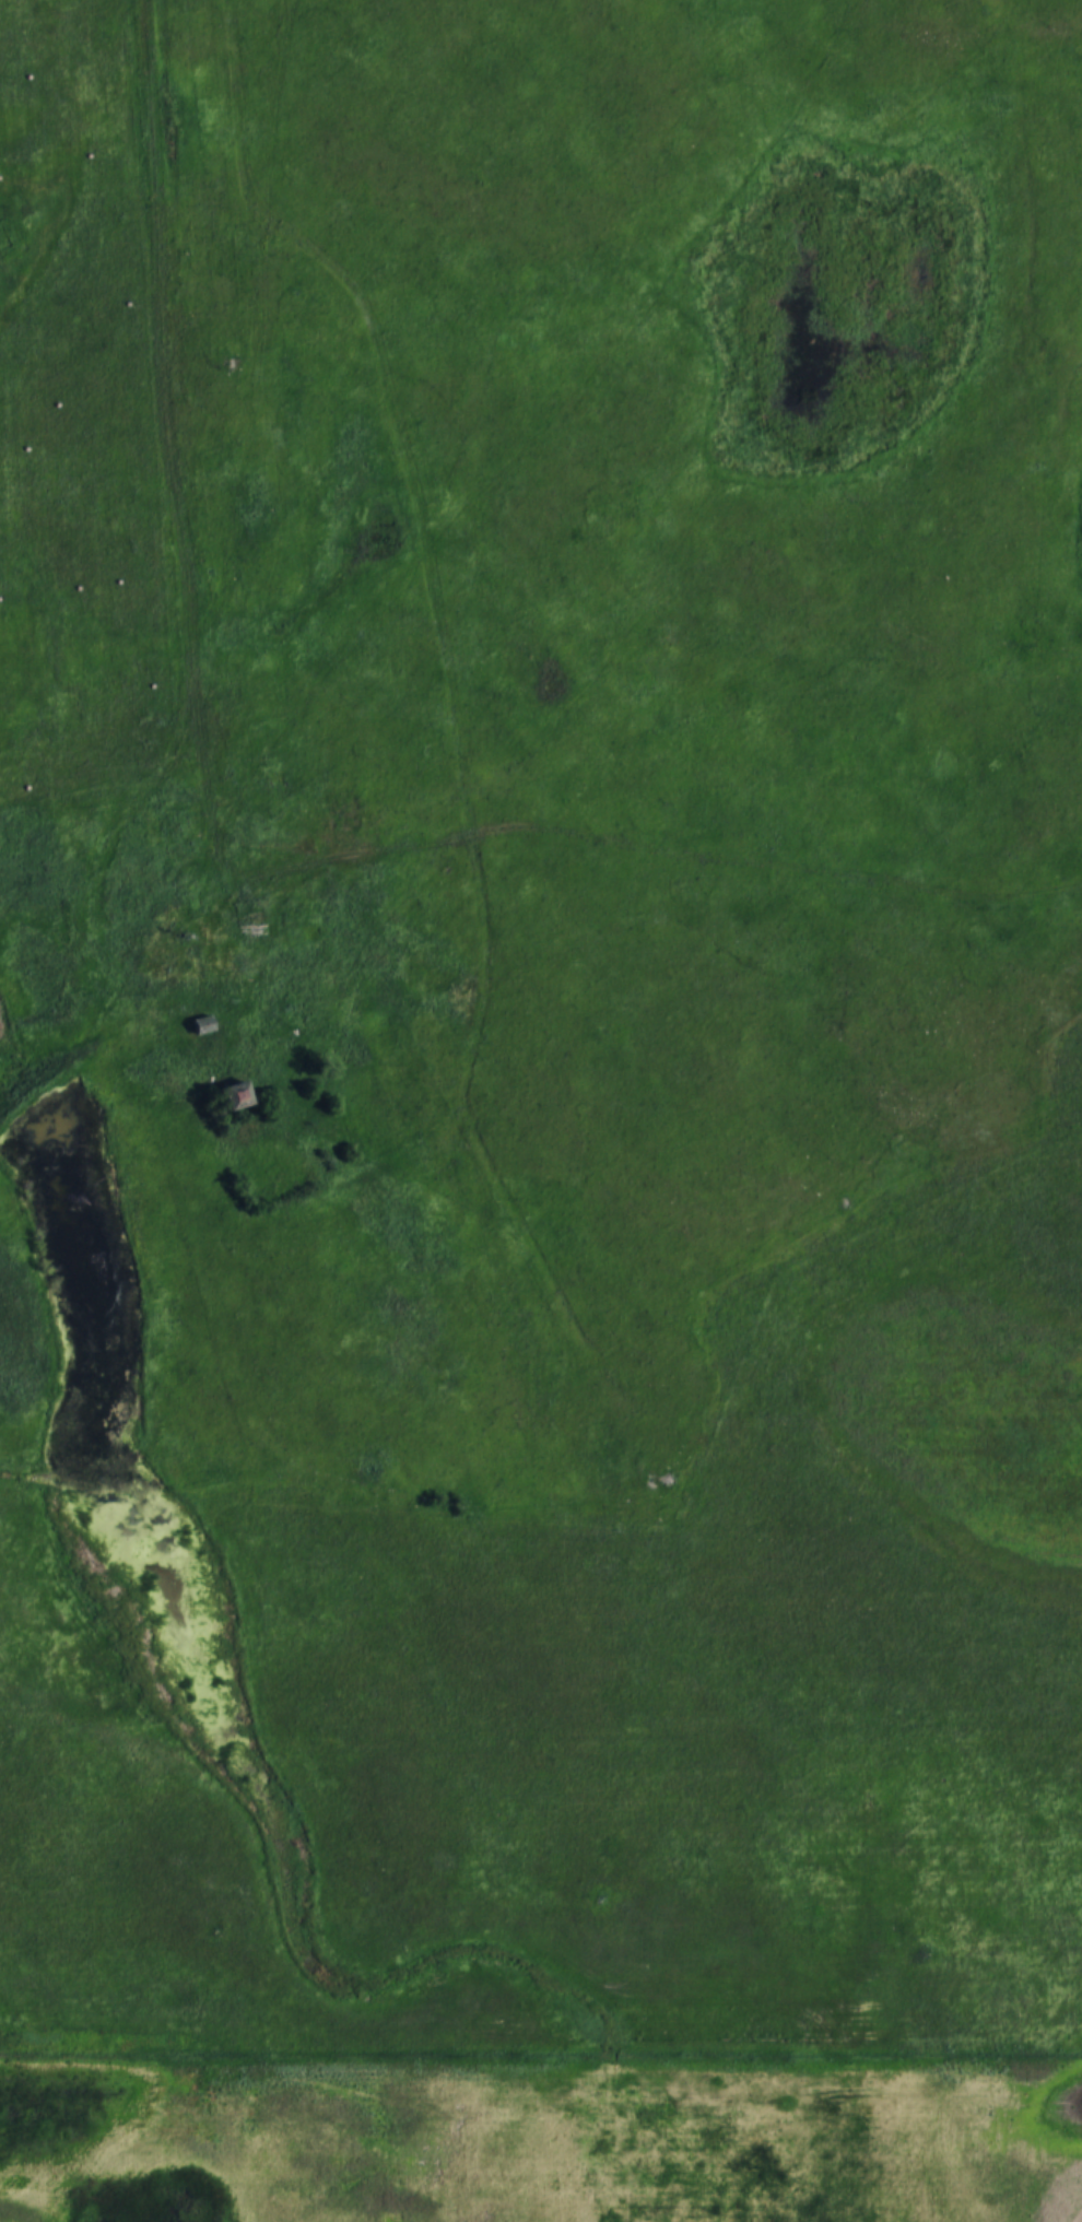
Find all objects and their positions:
building: (200, 1024)
building: (235, 1094)

